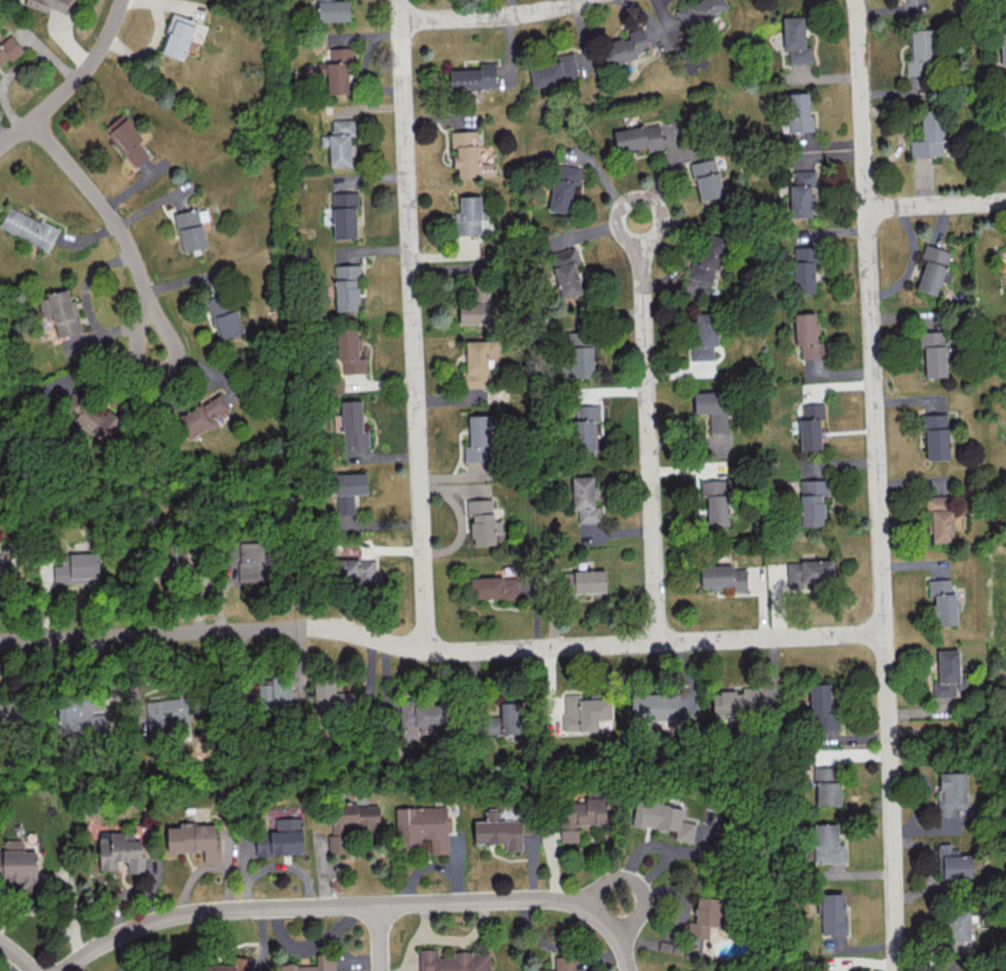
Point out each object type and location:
building: (48, 4)
building: (333, 10)
building: (699, 12)
road: (485, 15)
building: (181, 35)
building: (795, 39)
building: (625, 47)
building: (1003, 48)
building: (9, 49)
building: (919, 52)
building: (554, 70)
building: (336, 71)
building: (473, 77)
road: (73, 83)
building: (798, 111)
building: (929, 134)
building: (638, 137)
building: (1004, 137)
building: (126, 139)
building: (341, 142)
building: (468, 155)
building: (708, 177)
building: (563, 187)
building: (801, 194)
road: (937, 204)
building: (344, 214)
building: (468, 216)
road: (112, 223)
building: (28, 228)
building: (189, 230)
building: (707, 258)
building: (803, 269)
building: (933, 269)
building: (566, 272)
building: (346, 287)
building: (475, 309)
building: (61, 311)
building: (224, 315)
road: (412, 325)
building: (703, 335)
building: (807, 335)
building: (349, 351)
building: (933, 352)
building: (580, 355)
building: (478, 361)
building: (712, 408)
building: (95, 416)
building: (201, 416)
building: (353, 424)
building: (810, 426)
building: (584, 428)
road: (647, 430)
building: (936, 436)
building: (478, 438)
road: (877, 485)
building: (348, 490)
building: (584, 499)
building: (716, 501)
building: (812, 501)
building: (941, 518)
building: (481, 521)
building: (255, 561)
building: (1, 565)
building: (77, 568)
building: (354, 569)
building: (807, 572)
building: (723, 576)
building: (589, 581)
building: (494, 586)
building: (942, 602)
road: (439, 649)
building: (946, 673)
building: (331, 697)
building: (735, 701)
building: (655, 705)
building: (822, 707)
building: (9, 711)
building: (167, 712)
building: (583, 712)
building: (80, 714)
building: (430, 716)
building: (828, 793)
building: (950, 800)
building: (354, 815)
building: (581, 816)
building: (663, 817)
building: (422, 827)
building: (498, 830)
building: (281, 837)
building: (194, 839)
building: (336, 843)
building: (827, 843)
building: (121, 851)
building: (952, 862)
building: (0, 864)
building: (19, 864)
road: (635, 883)
road: (356, 907)
building: (832, 913)
building: (707, 925)
road: (377, 939)
road: (16, 957)
building: (453, 961)
building: (312, 964)
building: (564, 964)
building: (230, 966)

